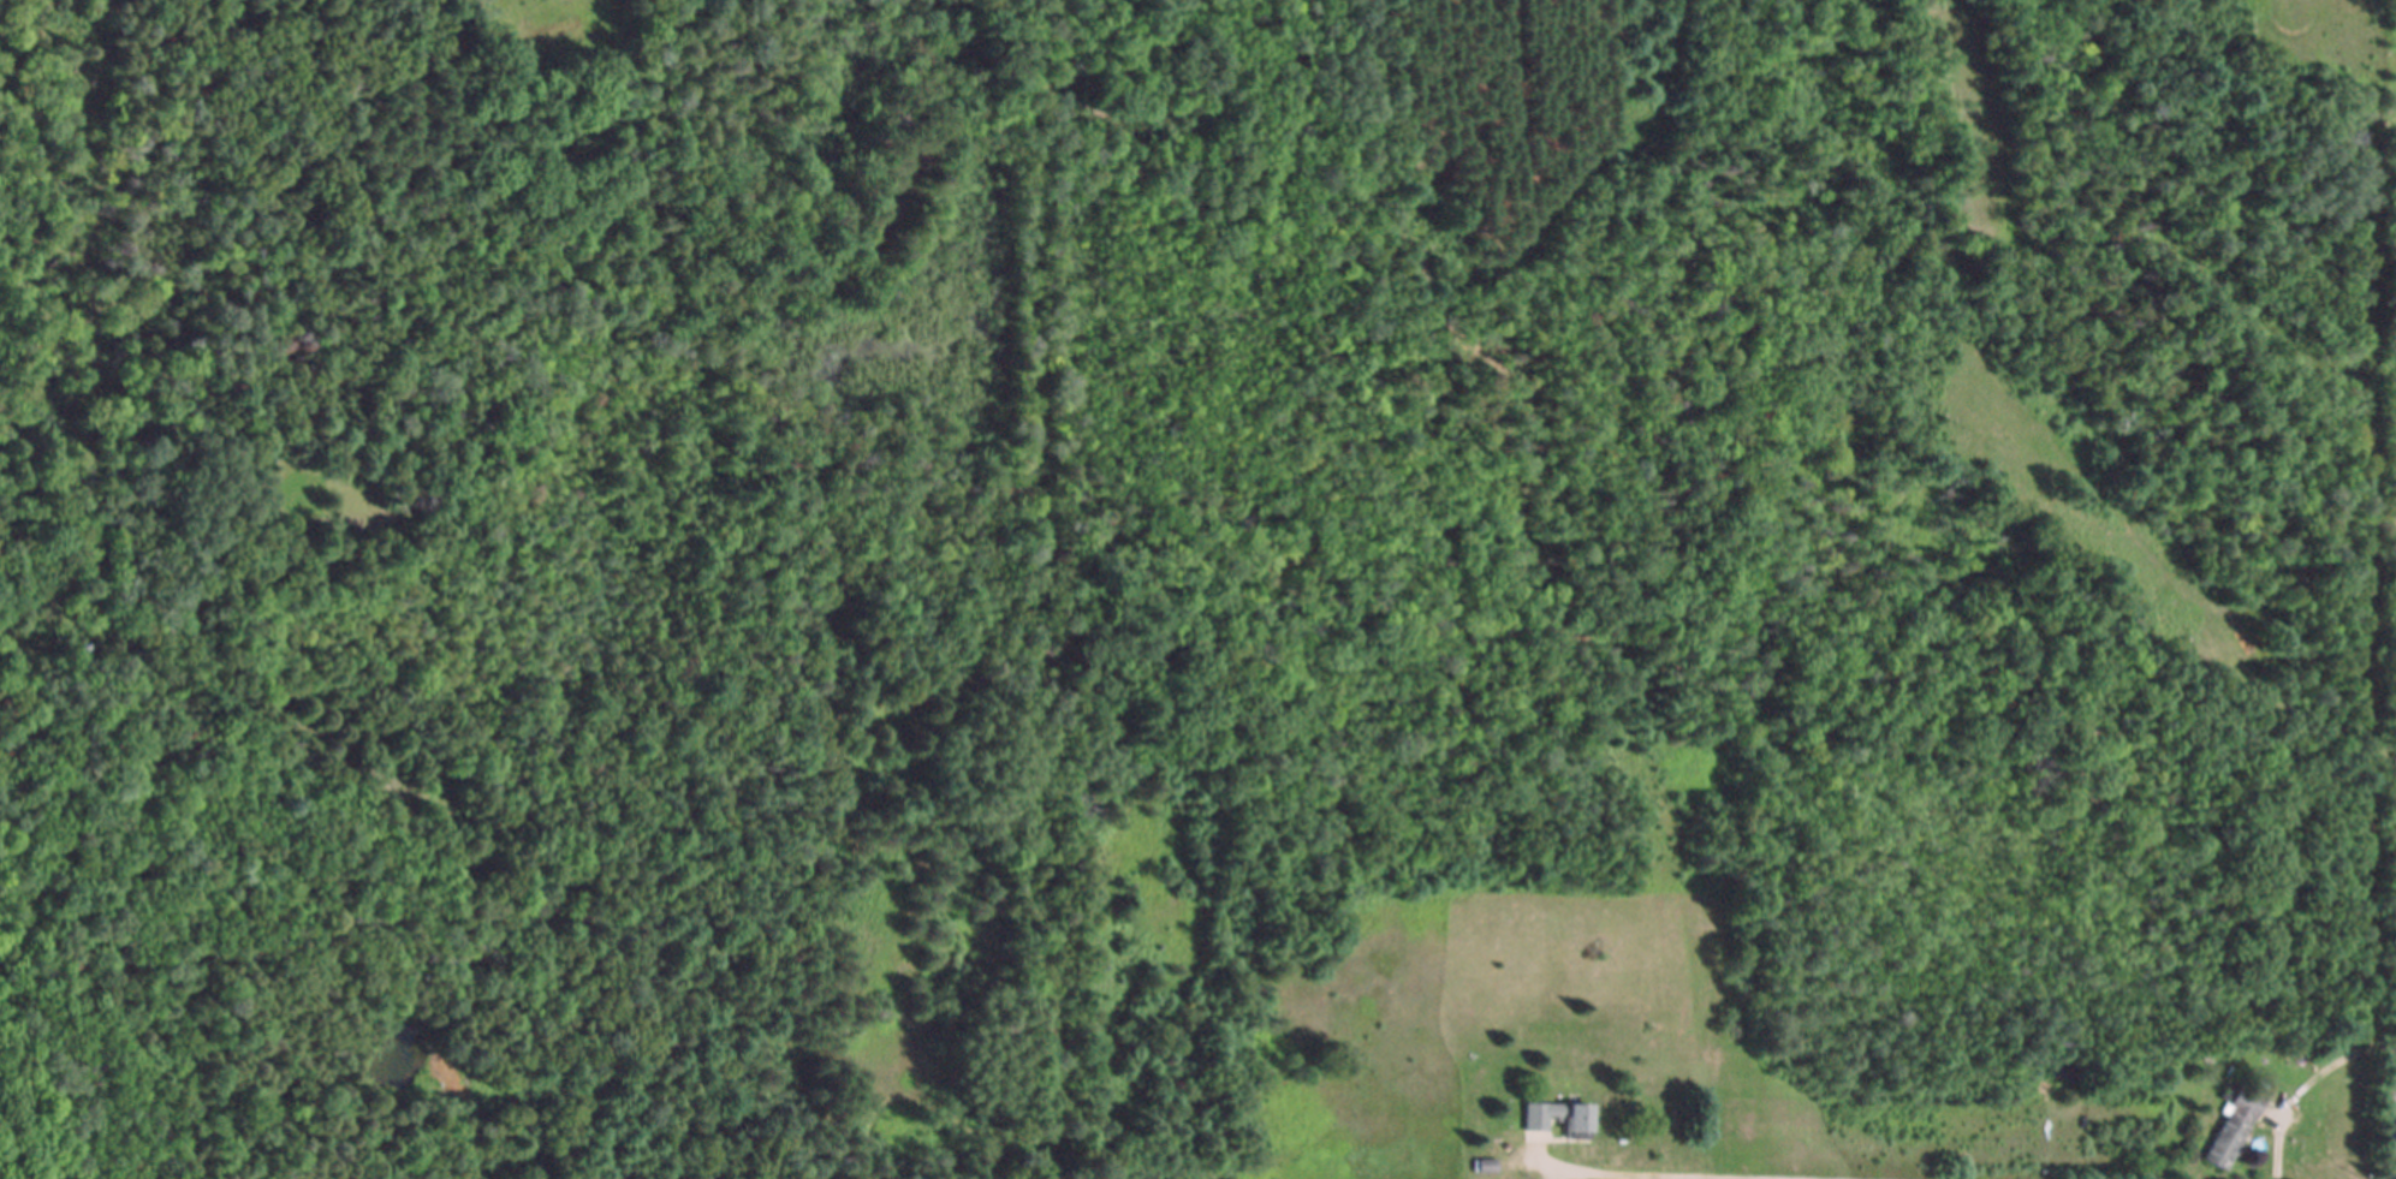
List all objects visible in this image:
building: (1538, 1118)
building: (1575, 1124)
building: (2232, 1130)
road: (2279, 1147)
road: (1631, 1175)

